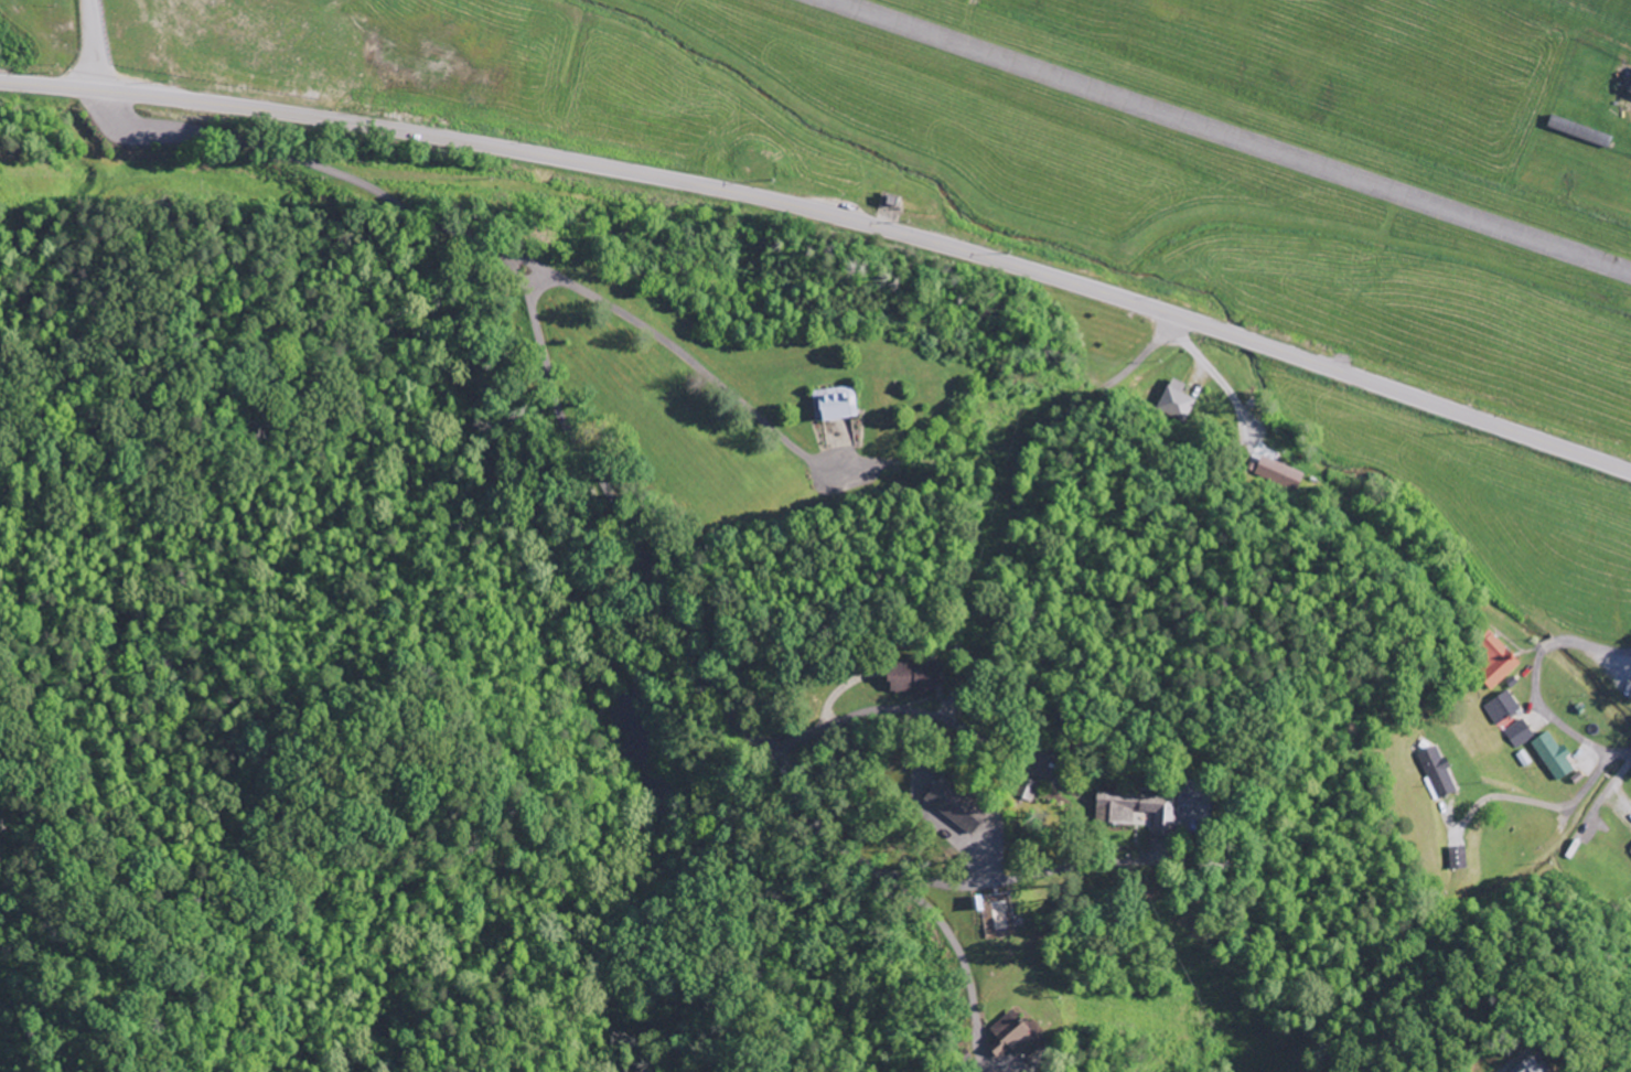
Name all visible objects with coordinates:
airport runway: (1225, 138)
road: (829, 215)
building: (1174, 398)
road: (571, 439)
building: (1280, 475)
building: (1496, 662)
road: (1533, 683)
building: (1503, 710)
building: (1520, 736)
building: (1555, 758)
building: (1438, 774)
building: (958, 807)
building: (1138, 812)
building: (1460, 860)
road: (904, 892)
building: (1012, 1037)
building: (1541, 1064)

